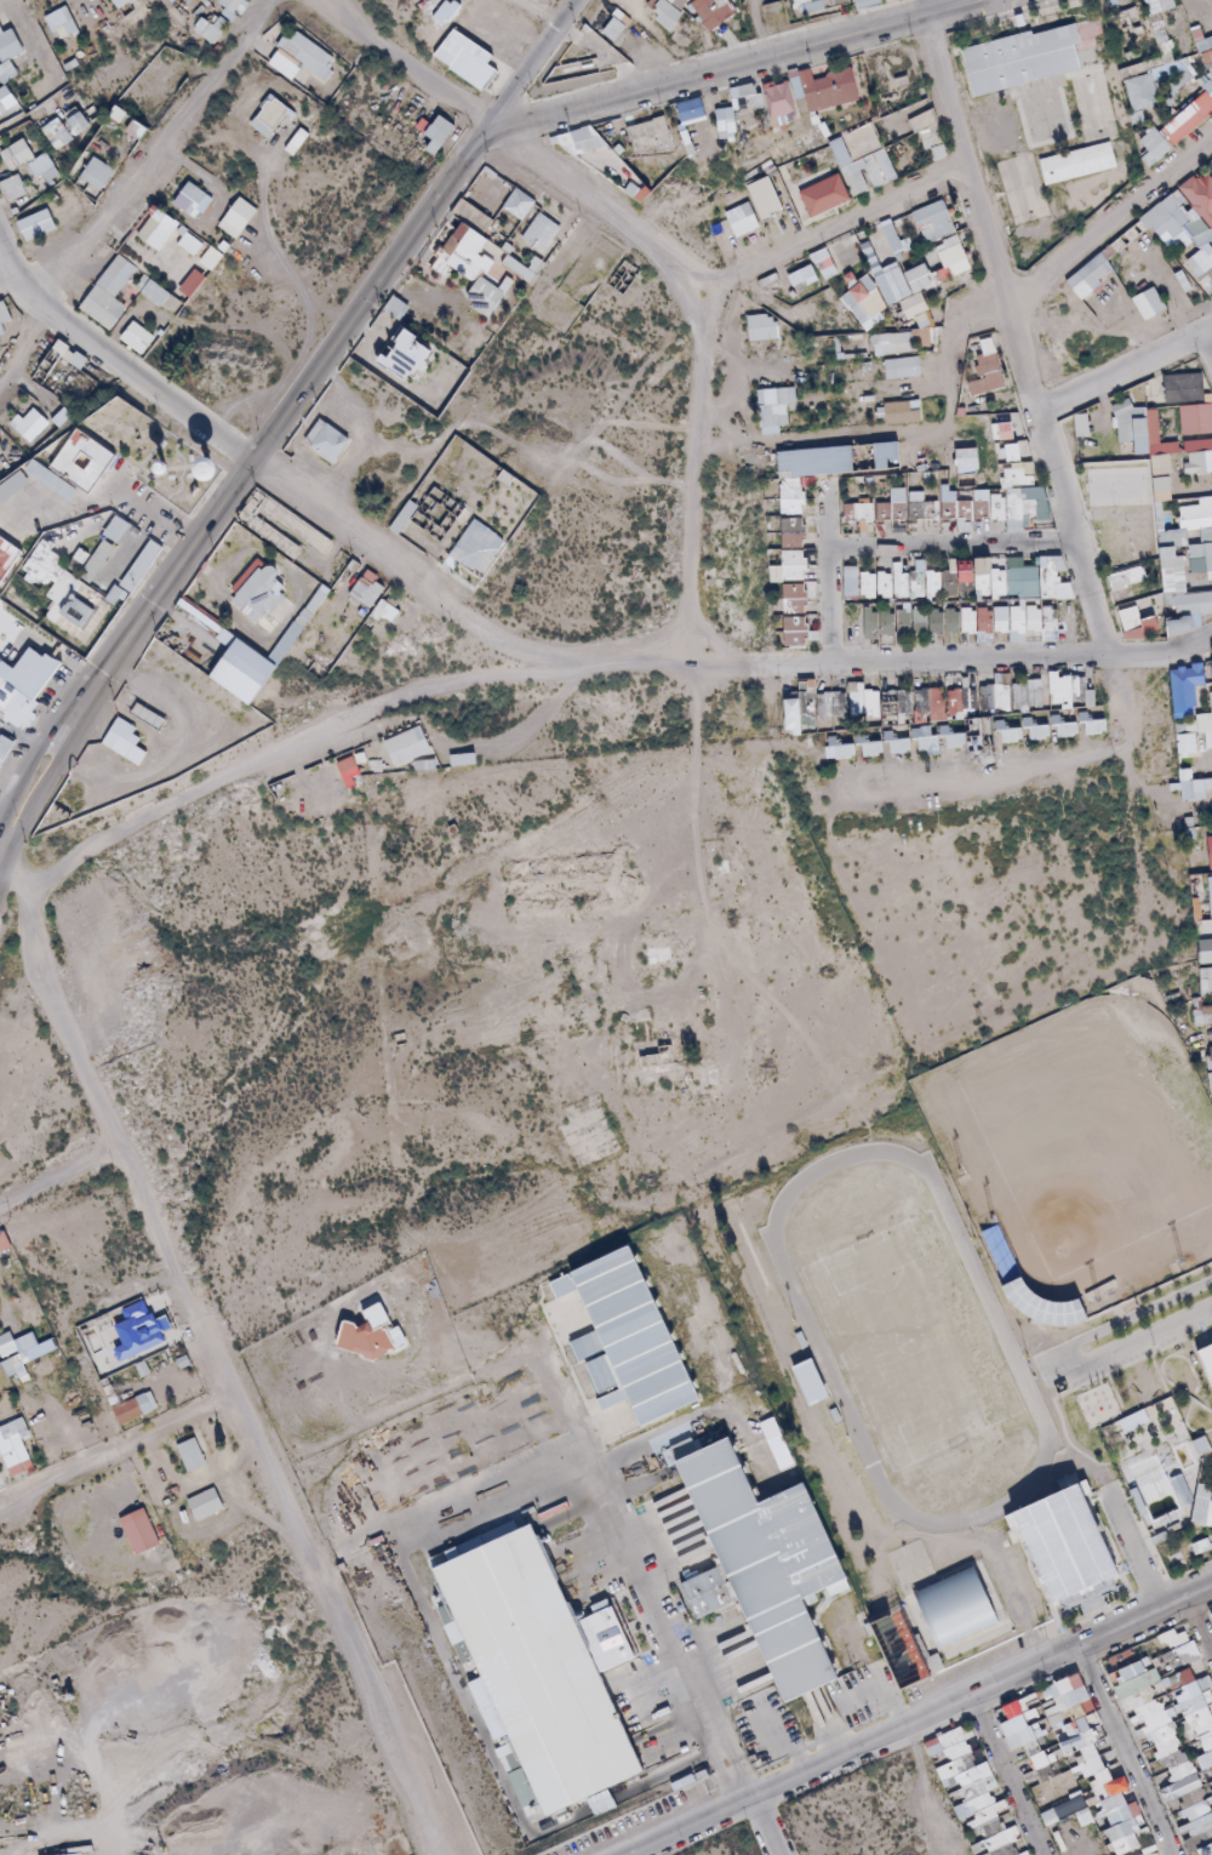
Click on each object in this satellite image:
road: (1, 0)
road: (759, 28)
road: (21, 40)
road: (737, 64)
road: (534, 65)
road: (508, 143)
road: (158, 154)
road: (1108, 223)
road: (825, 229)
road: (5, 275)
road: (22, 344)
road: (1207, 347)
road: (1022, 372)
road: (1124, 372)
road: (288, 410)
road: (886, 438)
road: (375, 449)
road: (274, 475)
road: (685, 480)
road: (102, 498)
road: (947, 544)
road: (131, 553)
road: (822, 577)
road: (52, 647)
road: (593, 669)
road: (182, 742)
road: (38, 753)
road: (979, 765)
road: (46, 788)
road: (1131, 827)
road: (904, 1069)
stadium: (1076, 1155)
road: (59, 1177)
road: (1139, 1317)
road: (1137, 1341)
road: (215, 1354)
road: (116, 1455)
road: (847, 1501)
road: (444, 1507)
road: (1120, 1525)
building: (1190, 1532)
building: (1068, 1558)
road: (1199, 1625)
road: (662, 1633)
road: (920, 1716)
road: (1122, 1750)
road: (1000, 1775)
road: (757, 1827)

